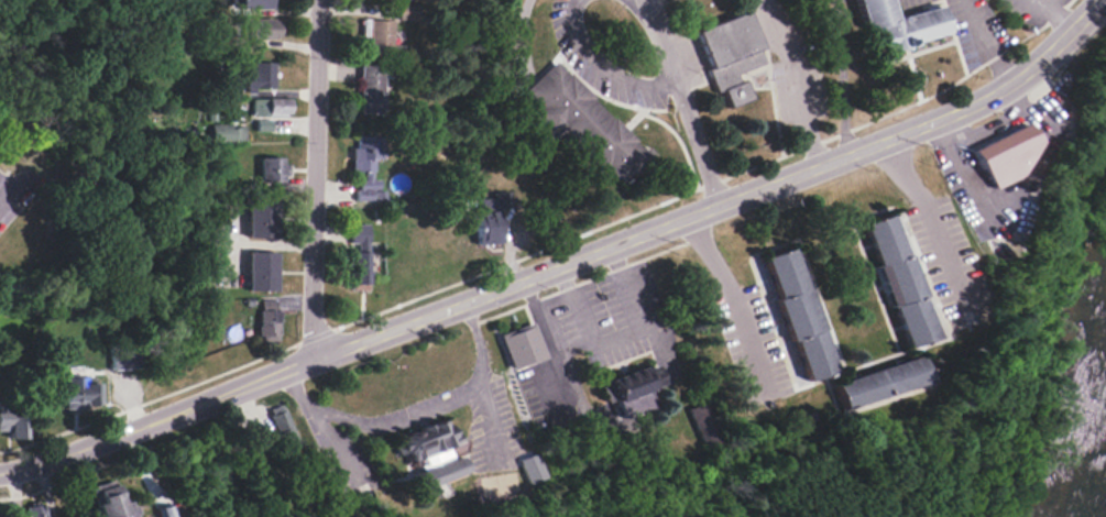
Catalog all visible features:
building: (248, 3)
parking lot: (1030, 12)
road: (1048, 15)
building: (893, 24)
building: (262, 29)
building: (377, 34)
road: (988, 38)
building: (730, 55)
road: (601, 69)
building: (260, 77)
road: (841, 77)
road: (792, 80)
building: (370, 89)
road: (682, 101)
building: (269, 106)
building: (583, 124)
building: (263, 125)
building: (227, 133)
building: (1001, 154)
building: (365, 163)
building: (272, 168)
road: (311, 179)
building: (490, 216)
building: (261, 218)
road: (931, 219)
road: (266, 244)
building: (359, 253)
road: (563, 261)
building: (261, 271)
building: (898, 280)
road: (735, 300)
building: (799, 315)
building: (267, 320)
road: (541, 329)
road: (615, 338)
building: (522, 346)
building: (121, 359)
road: (482, 375)
building: (878, 382)
building: (631, 391)
building: (78, 393)
road: (402, 418)
building: (12, 420)
building: (705, 421)
road: (321, 424)
building: (281, 427)
building: (429, 452)
building: (530, 469)
river: (1097, 480)
building: (110, 502)
building: (34, 510)
building: (163, 512)
building: (2, 516)

